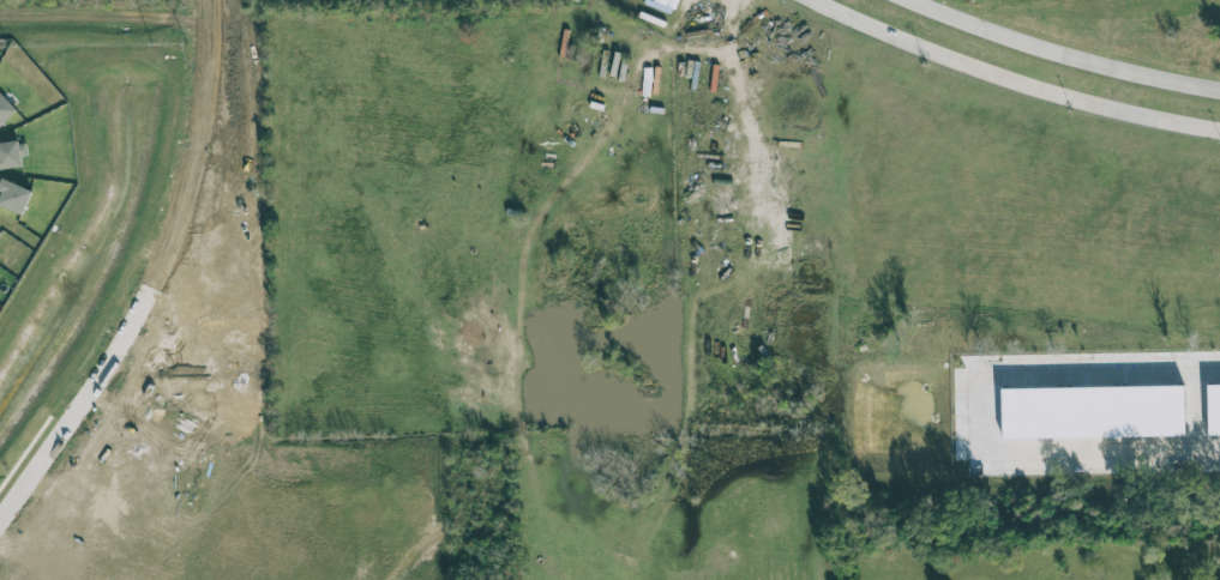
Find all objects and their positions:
road: (1062, 55)
road: (1012, 79)
building: (5, 109)
building: (10, 155)
building: (13, 195)
building: (0, 230)
road: (156, 284)
building: (1214, 409)
building: (1092, 411)
road: (984, 413)

